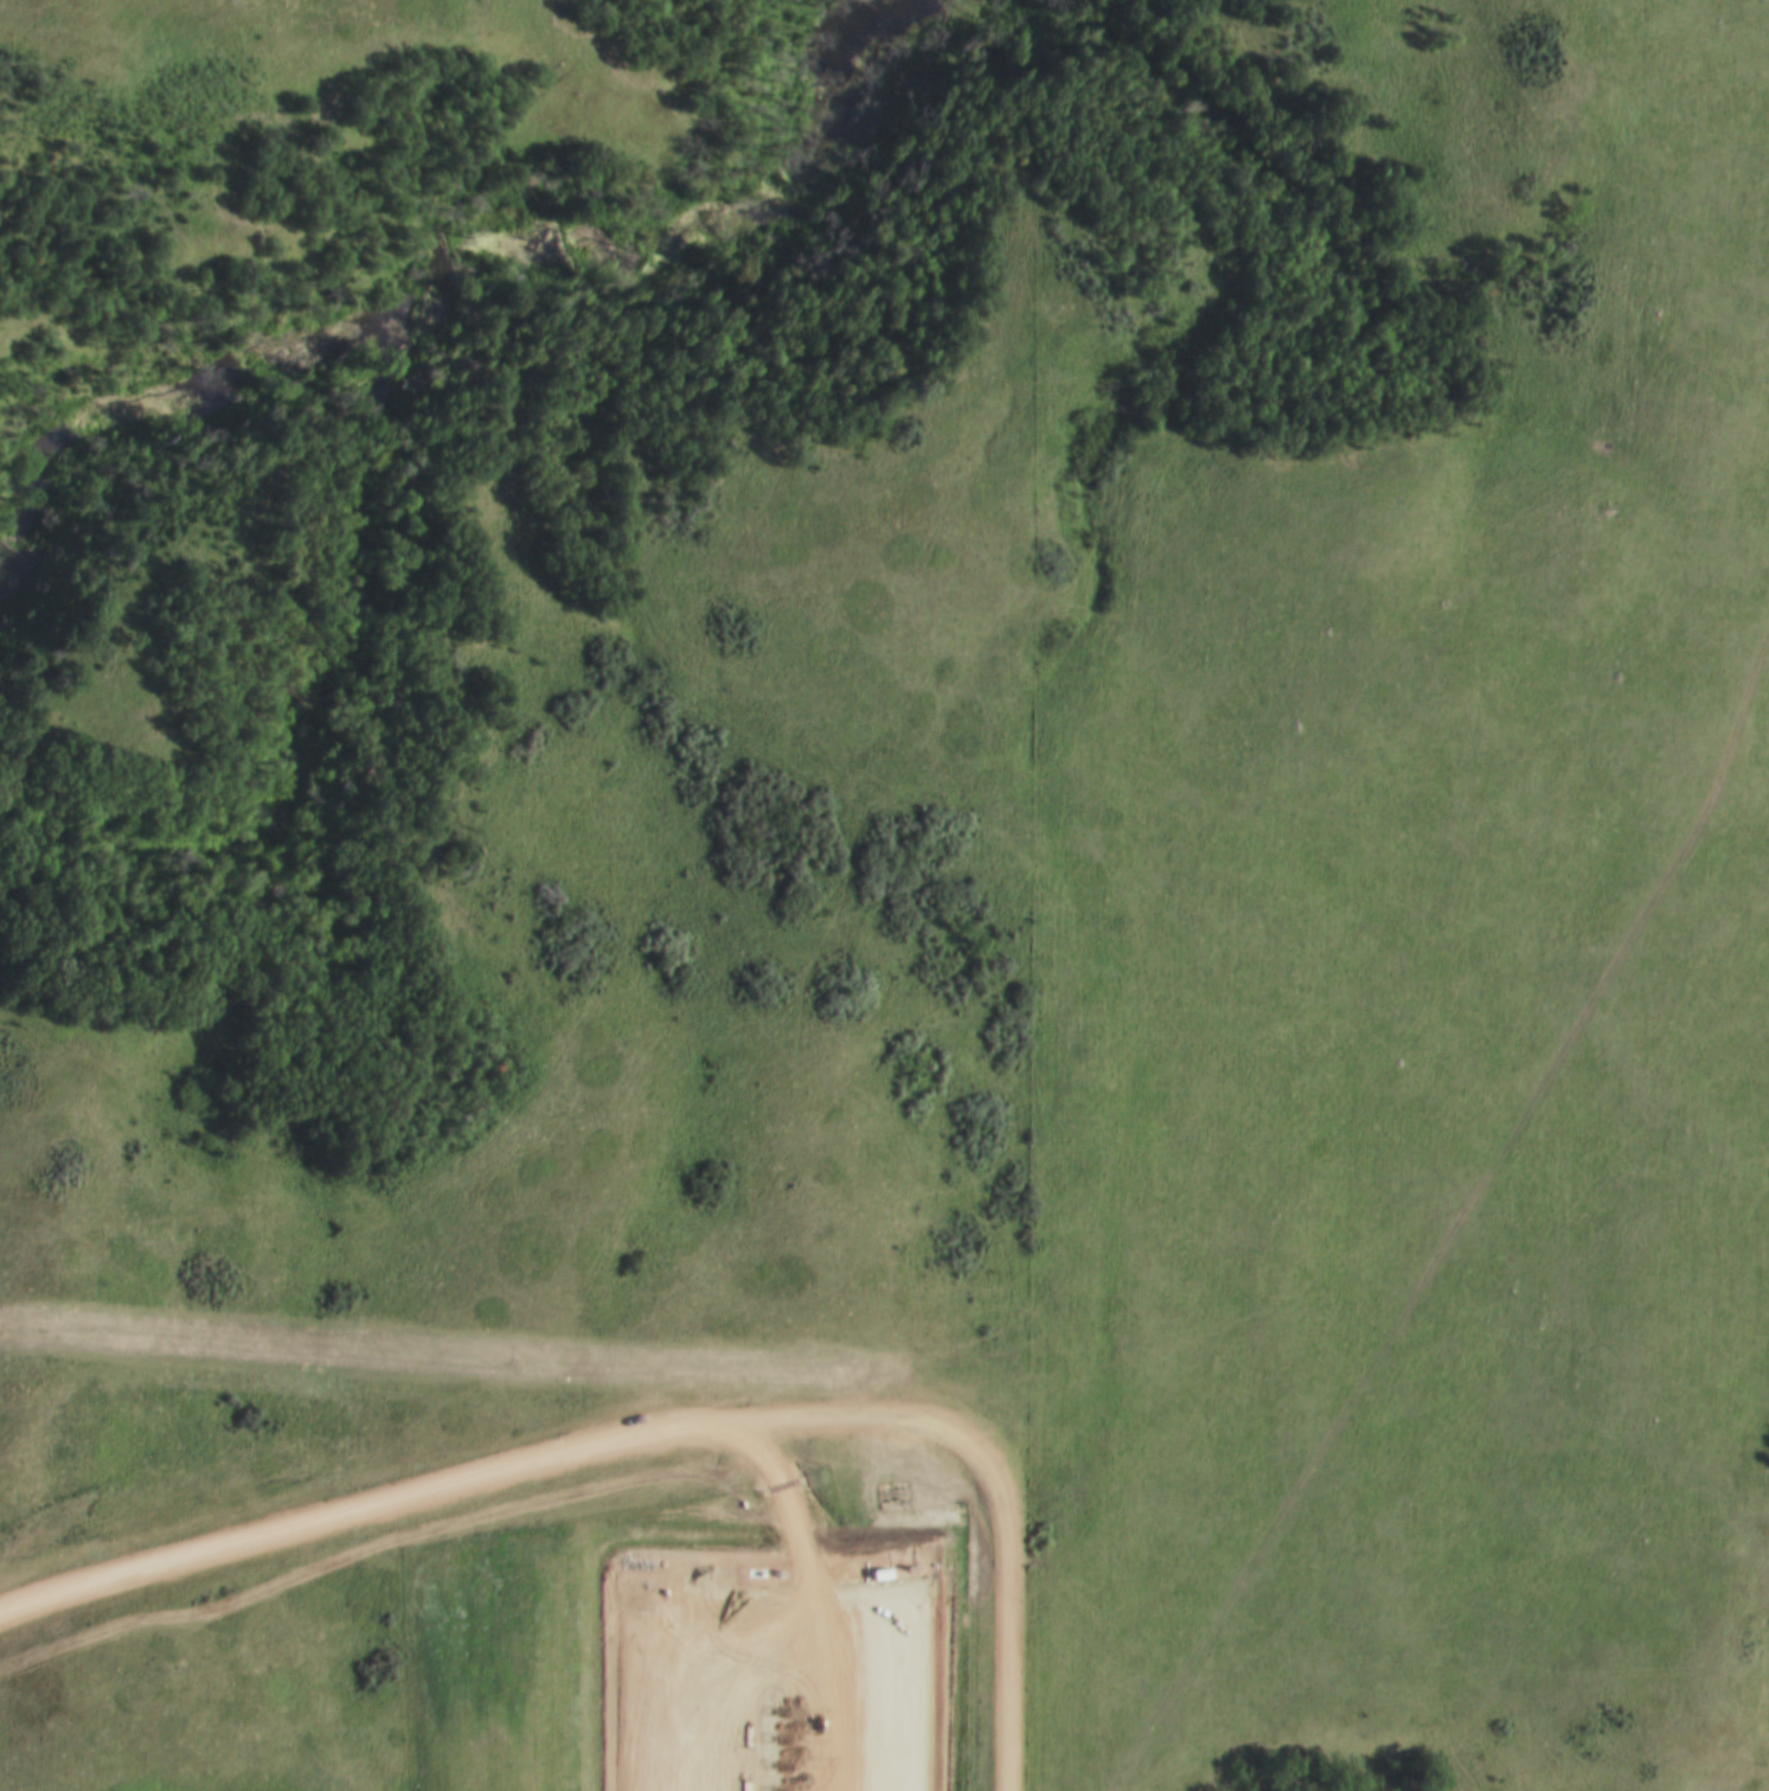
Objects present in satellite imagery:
road: (658, 1420)
road: (805, 1559)
building: (667, 1584)
storage tank: (667, 1584)
building: (681, 1586)
storage tank: (681, 1586)
building: (694, 1586)
storage tank: (694, 1586)
building: (709, 1588)
storage tank: (709, 1588)
building: (722, 1589)
storage tank: (722, 1589)
petroleum well: (770, 1790)

